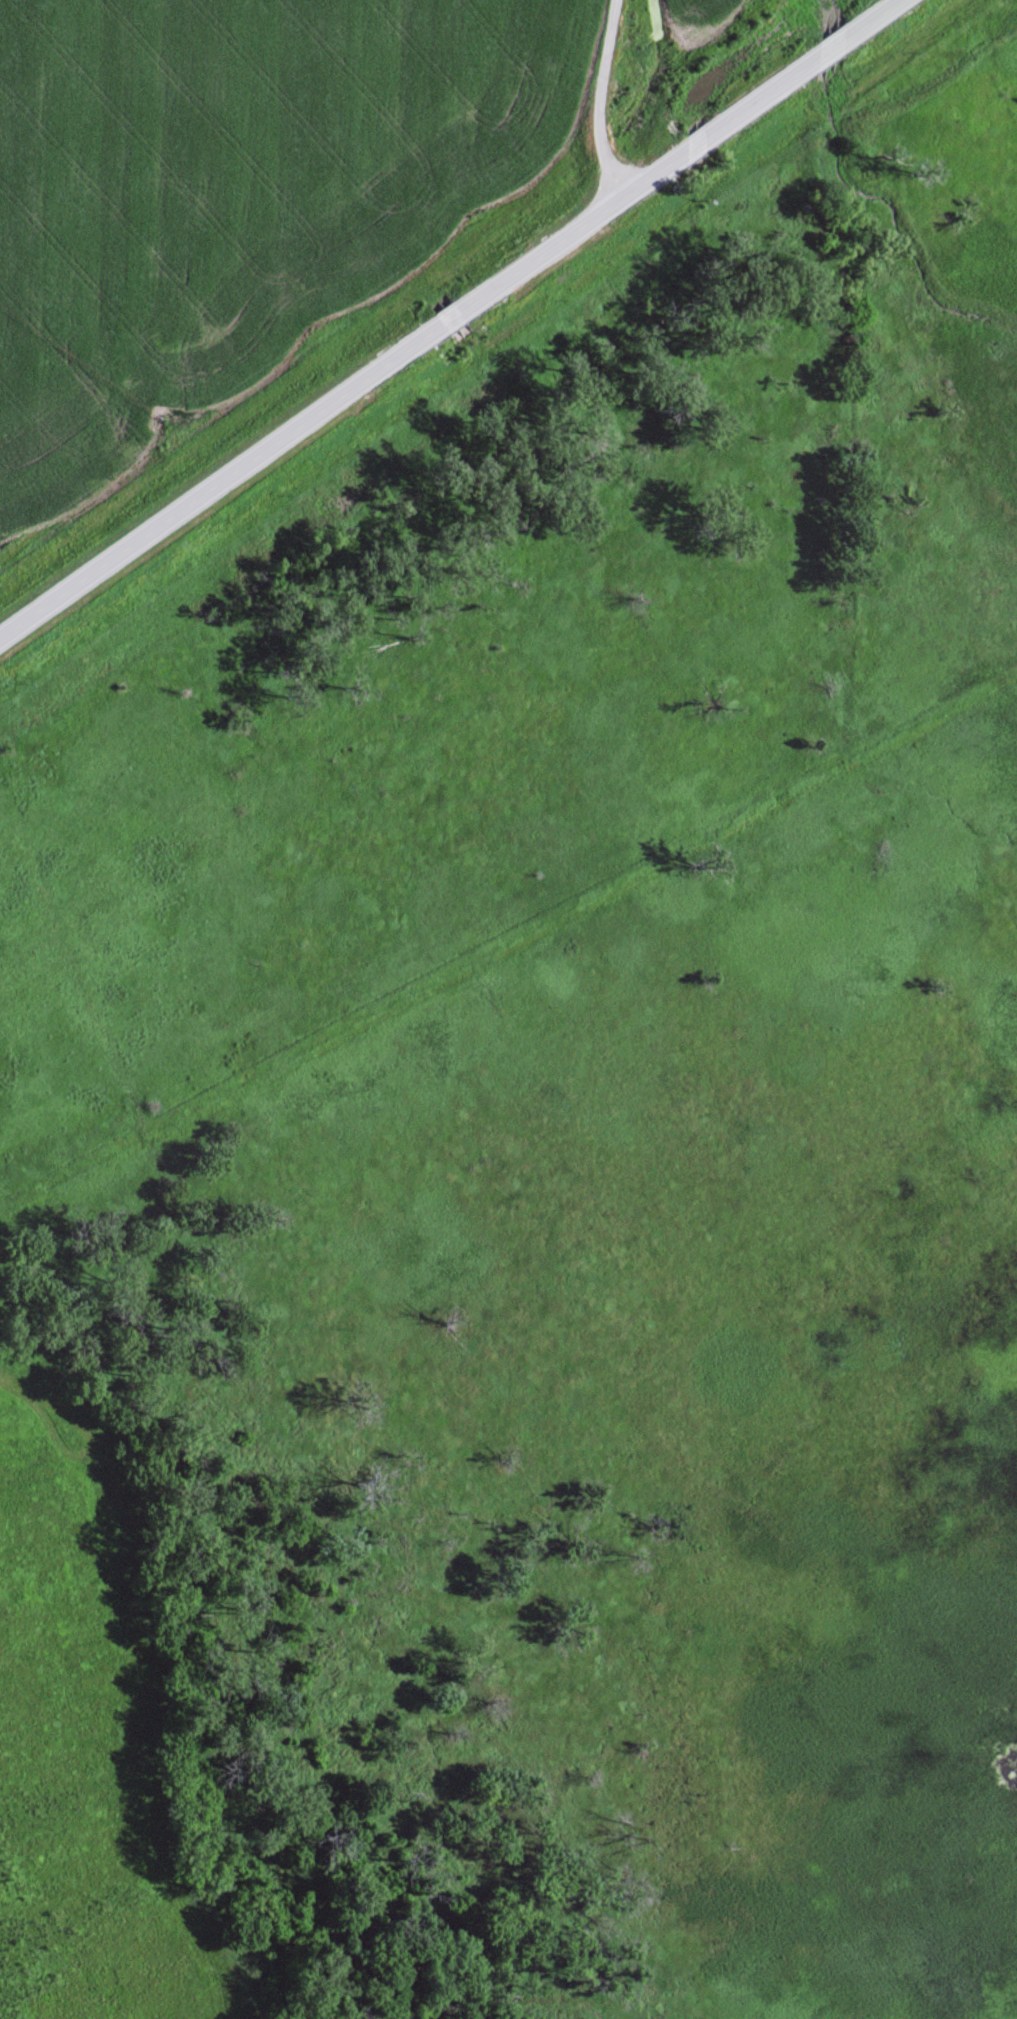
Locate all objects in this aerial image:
road: (641, 99)
road: (472, 332)

